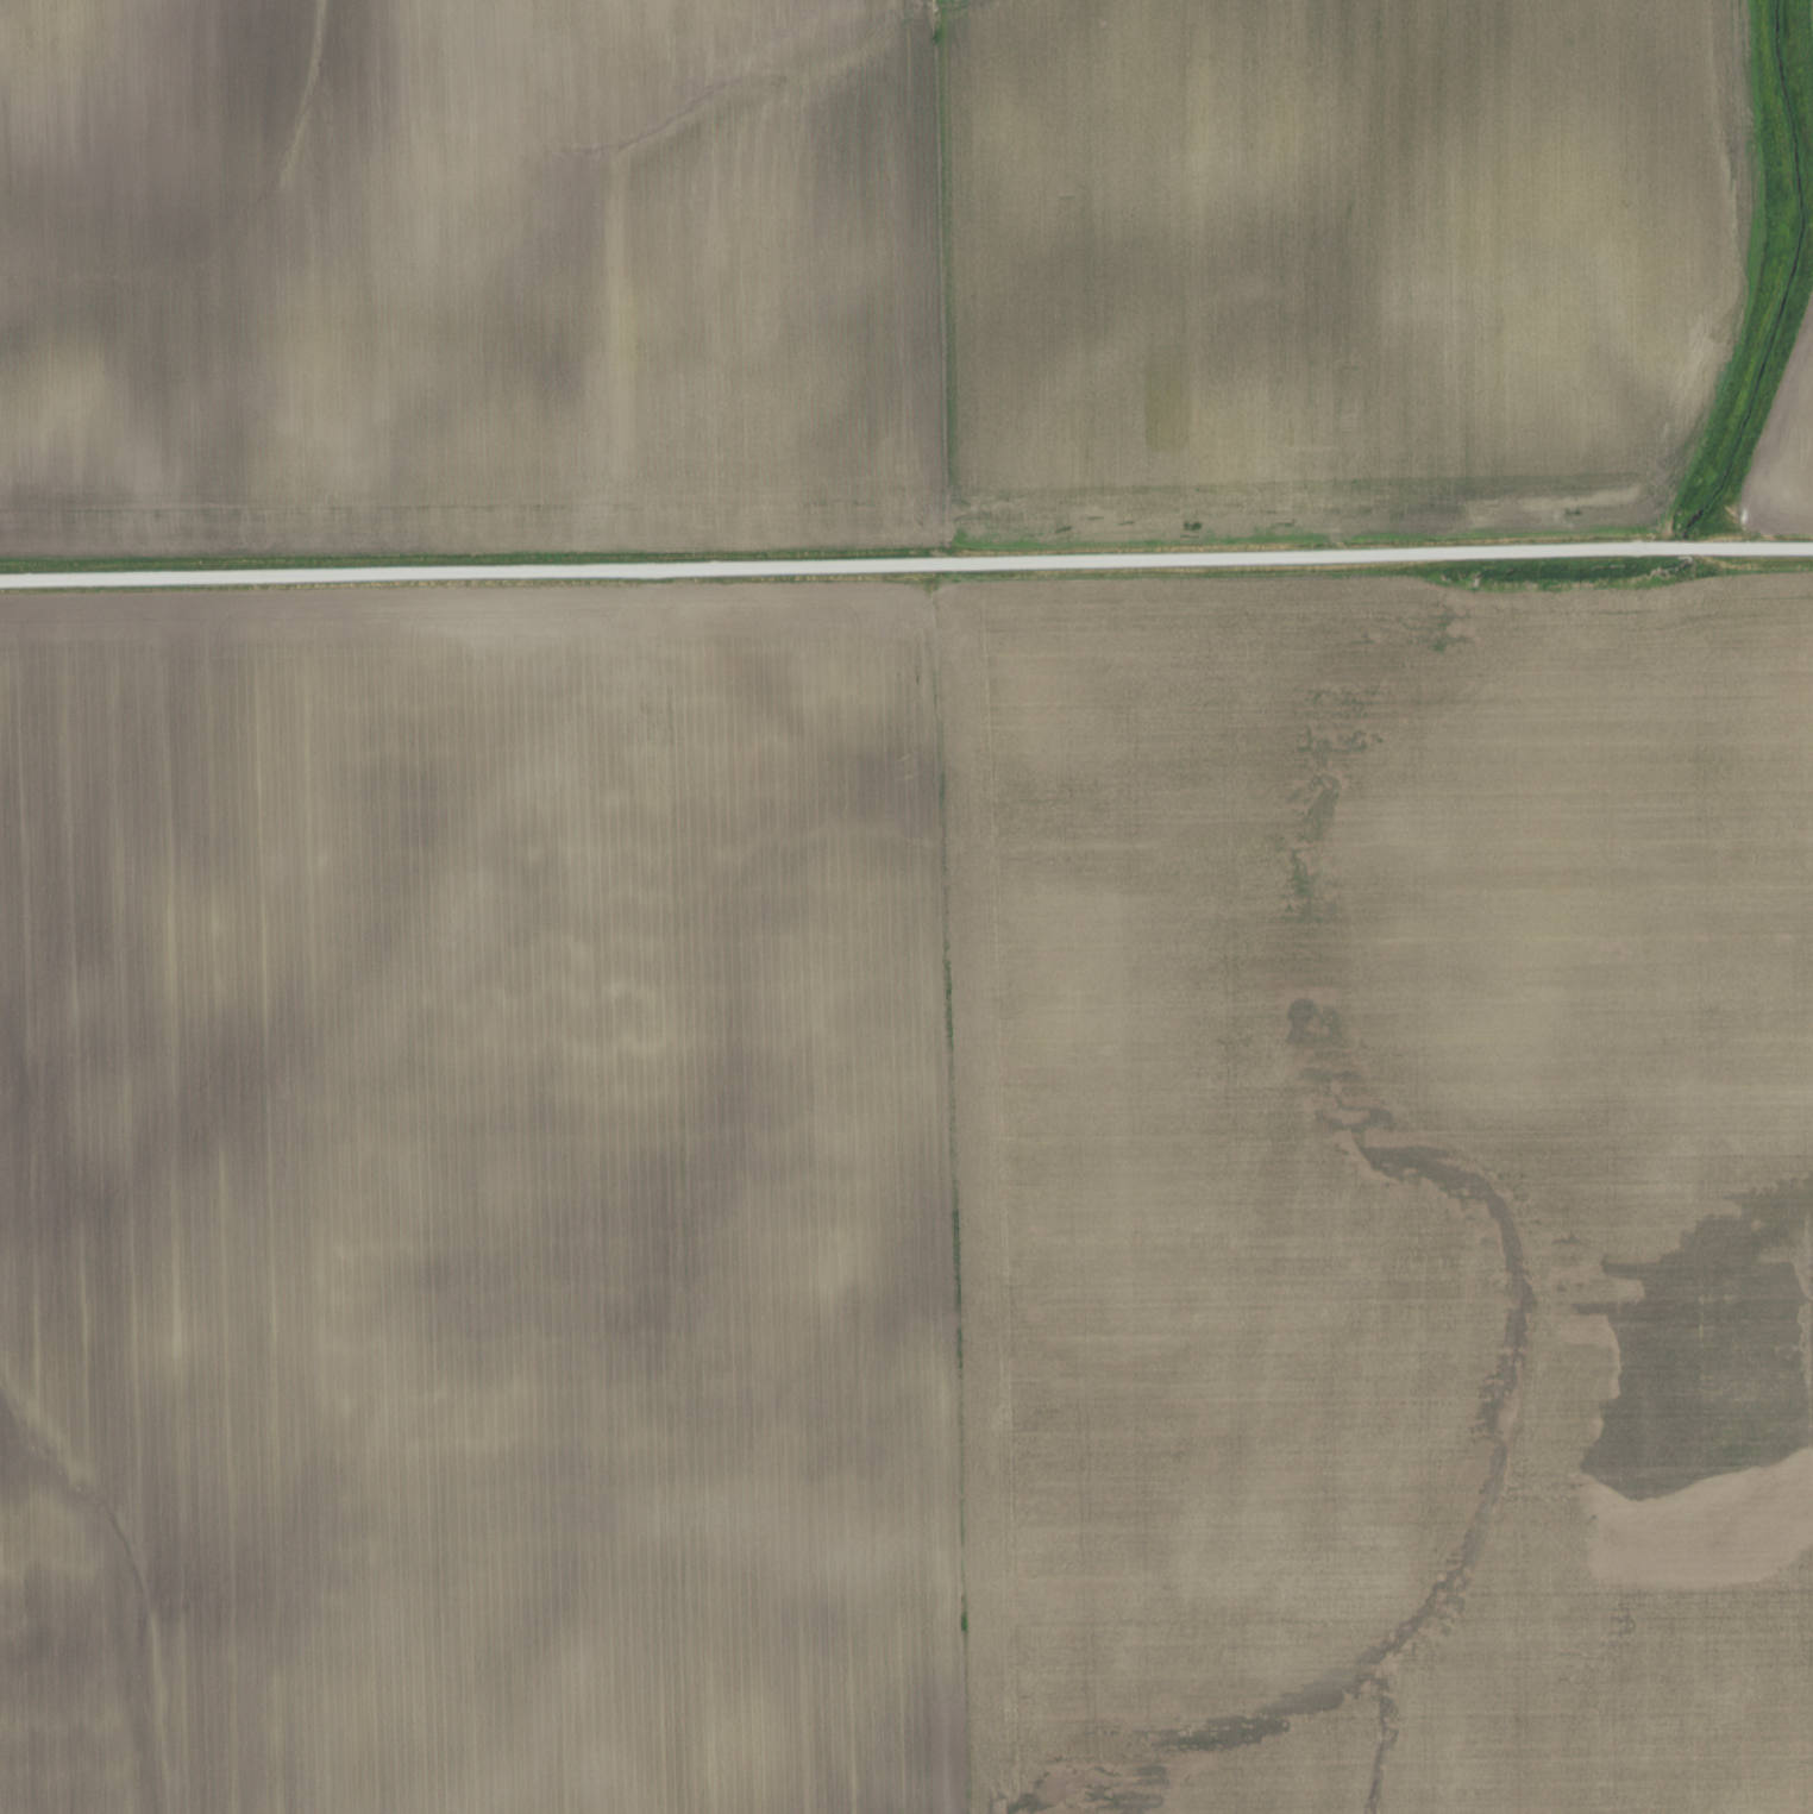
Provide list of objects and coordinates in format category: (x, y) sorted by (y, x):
crop: (854, 268)
crop: (1784, 446)
road: (905, 560)
crop: (908, 1199)

